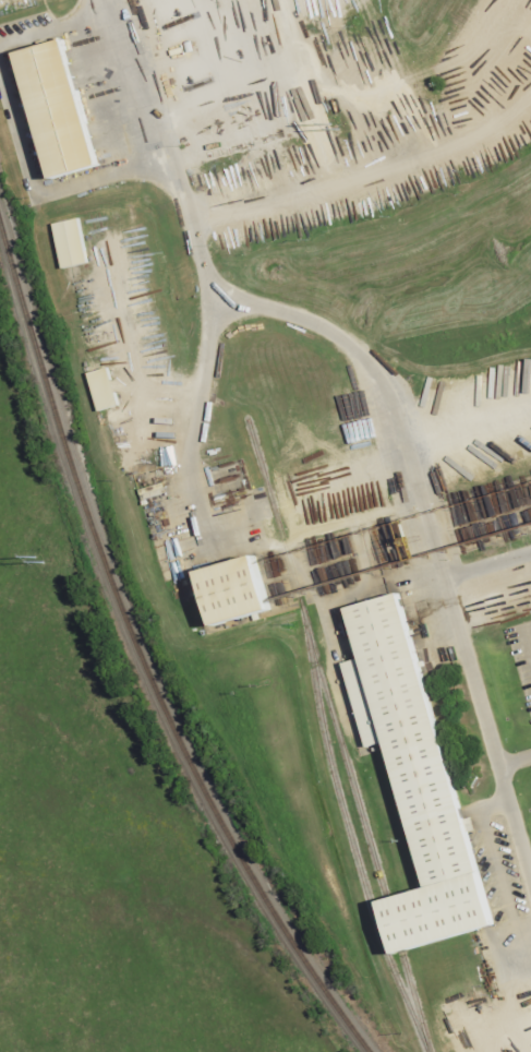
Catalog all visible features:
road: (482, 55)
road: (511, 57)
road: (266, 88)
road: (519, 106)
building: (57, 109)
road: (351, 112)
power tower: (331, 125)
road: (351, 176)
building: (74, 242)
road: (131, 355)
road: (382, 386)
building: (107, 388)
road: (198, 409)
road: (467, 419)
power tower: (38, 558)
road: (488, 566)
building: (233, 594)
railway: (313, 653)
railway: (140, 657)
road: (515, 762)
building: (415, 782)
railway: (343, 820)
railway: (414, 1004)

